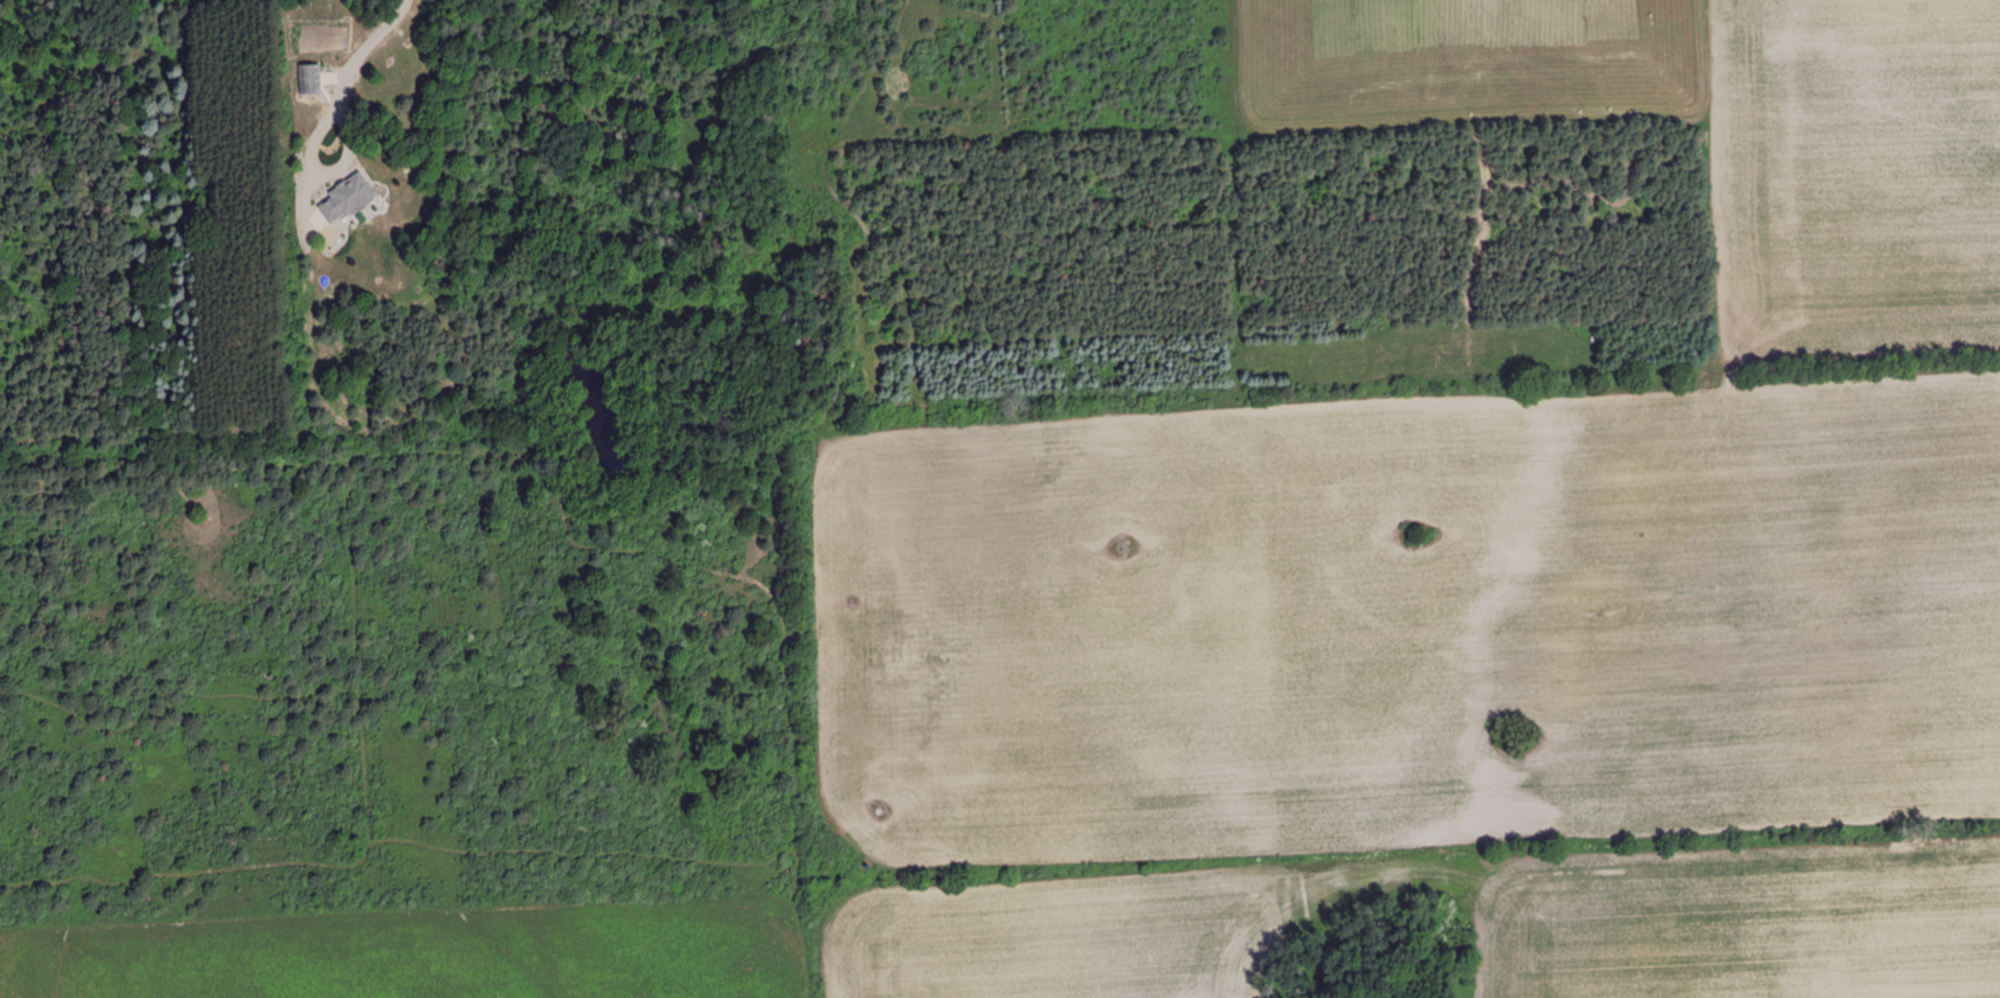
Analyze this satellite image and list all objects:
building: (310, 80)
building: (346, 199)

